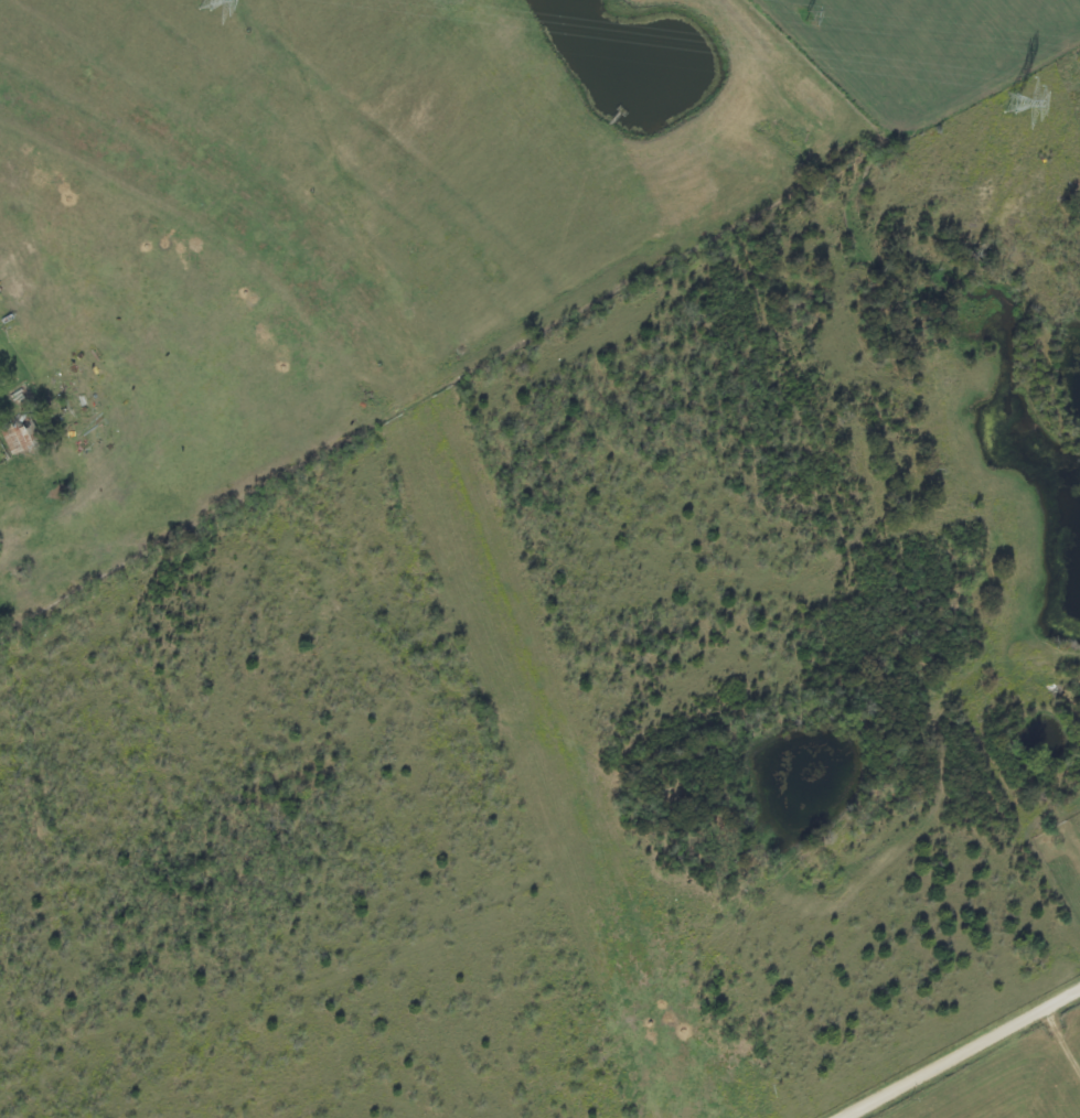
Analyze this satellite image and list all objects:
power tower: (202, 2)
power tower: (811, 15)
power tower: (1007, 106)
building: (20, 441)
road: (964, 1055)

